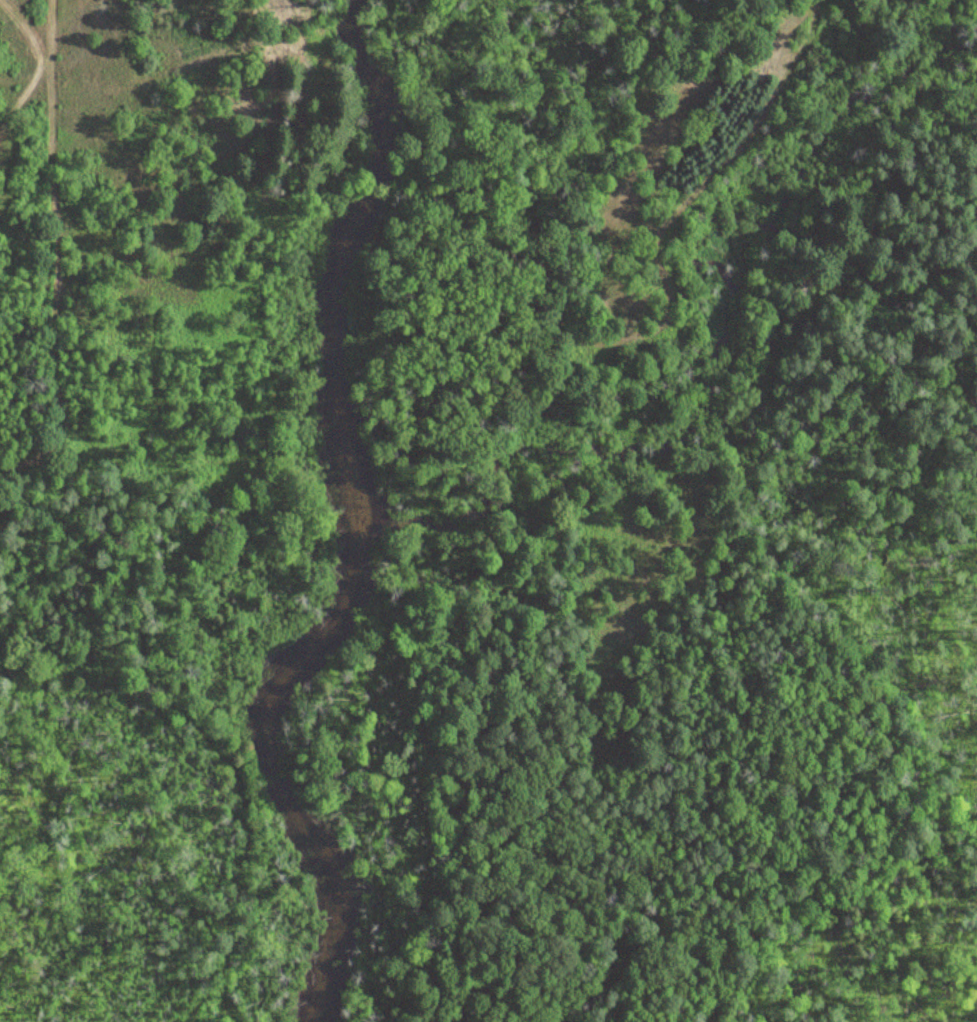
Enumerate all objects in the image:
river: (354, 529)

